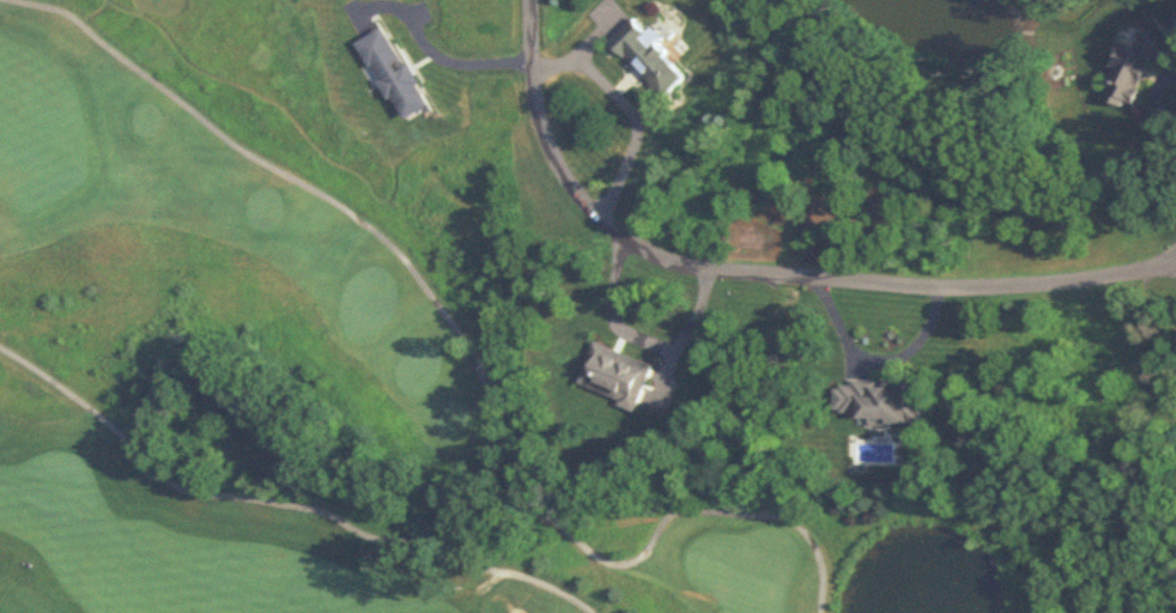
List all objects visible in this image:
road: (436, 51)
building: (653, 56)
building: (1132, 63)
building: (395, 73)
road: (628, 108)
road: (1169, 145)
road: (357, 219)
road: (763, 277)
road: (637, 335)
road: (880, 359)
building: (617, 375)
park: (386, 402)
building: (880, 402)
road: (283, 502)

